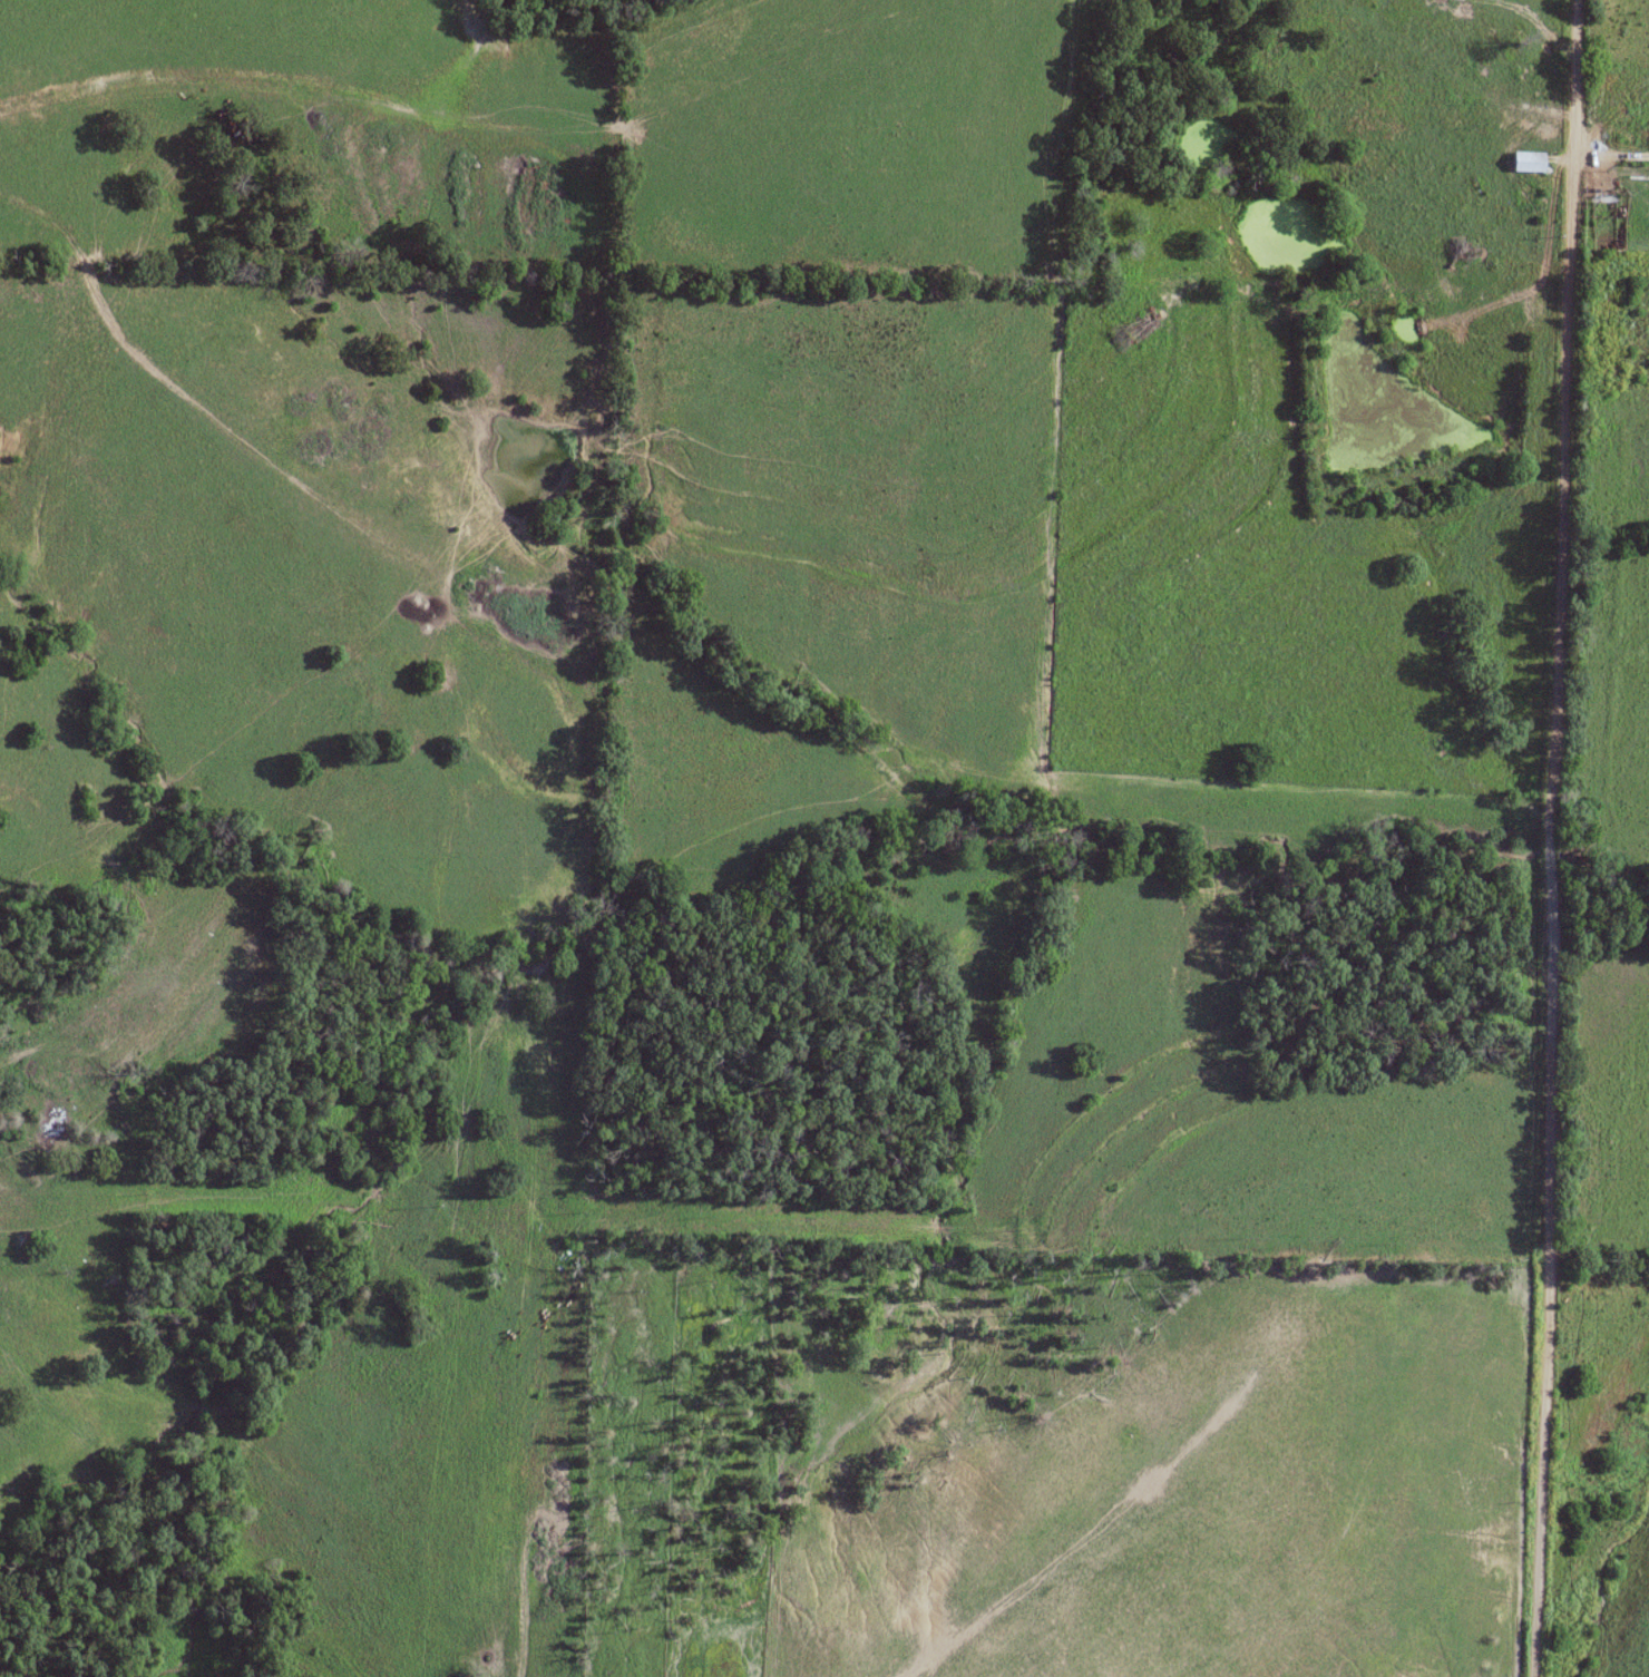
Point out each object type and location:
building: (1524, 163)
building: (1593, 183)
road: (1553, 838)

